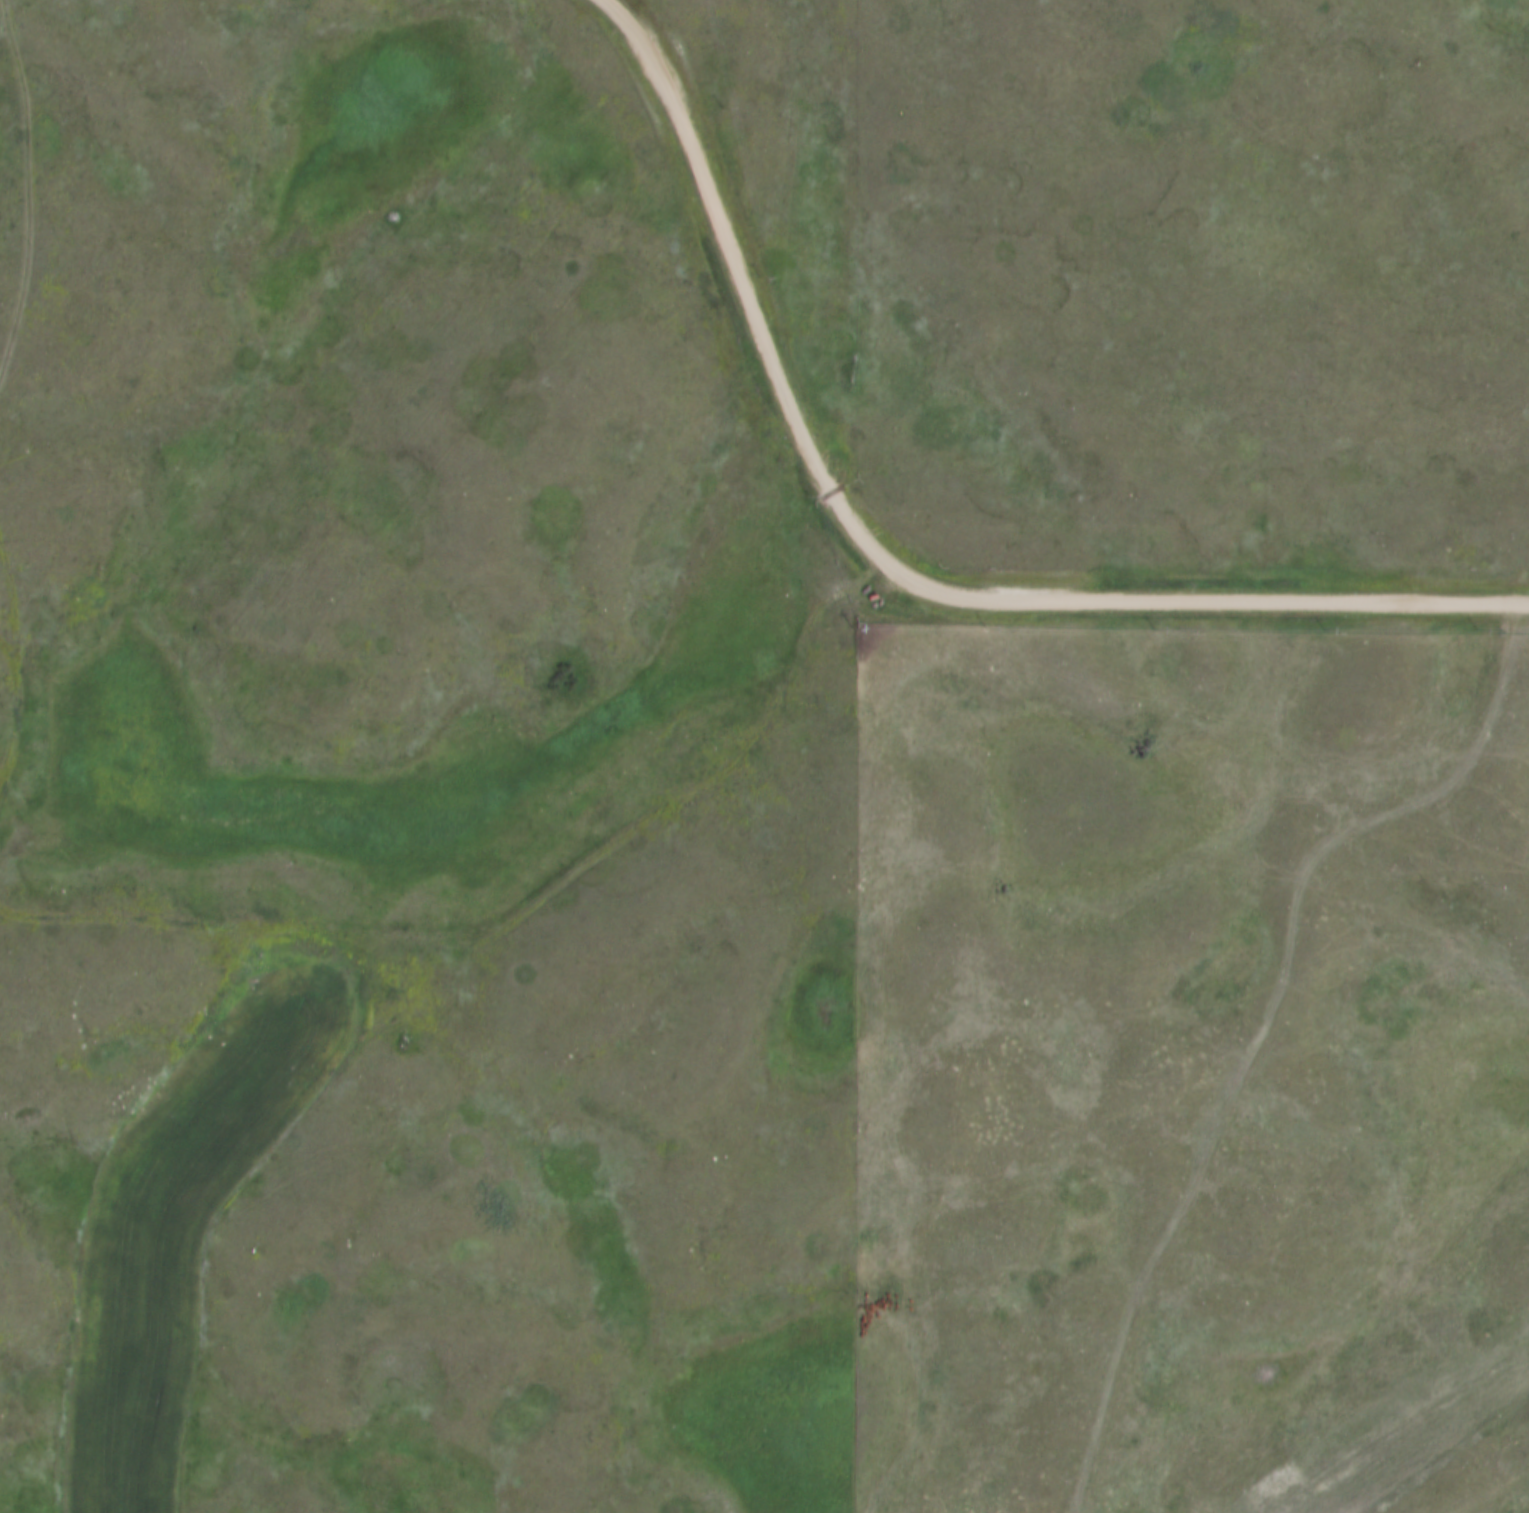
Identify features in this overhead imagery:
road: (31, 189)
road: (7, 648)
road: (17, 667)
road: (766, 725)

